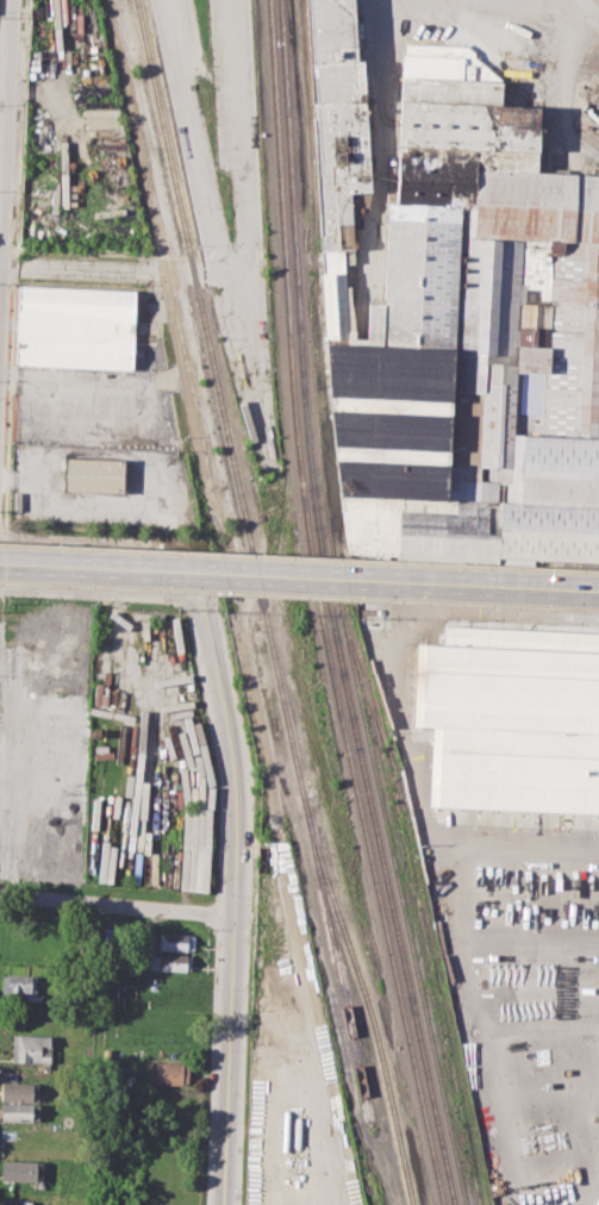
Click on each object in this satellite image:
road: (5, 100)
building: (588, 106)
building: (338, 121)
building: (537, 205)
road: (160, 230)
road: (126, 269)
building: (456, 316)
building: (75, 326)
railway: (221, 398)
building: (95, 474)
railway: (323, 487)
building: (519, 507)
road: (299, 577)
road: (98, 589)
railway: (319, 607)
railway: (330, 607)
building: (510, 714)
road: (237, 780)
road: (117, 907)
railway: (414, 911)
building: (174, 942)
railway: (431, 944)
road: (467, 957)
railway: (337, 959)
building: (170, 961)
building: (19, 987)
railway: (367, 999)
railway: (428, 1022)
building: (32, 1048)
building: (168, 1073)
building: (20, 1090)
building: (20, 1111)
building: (23, 1134)
building: (23, 1170)
building: (15, 1201)

